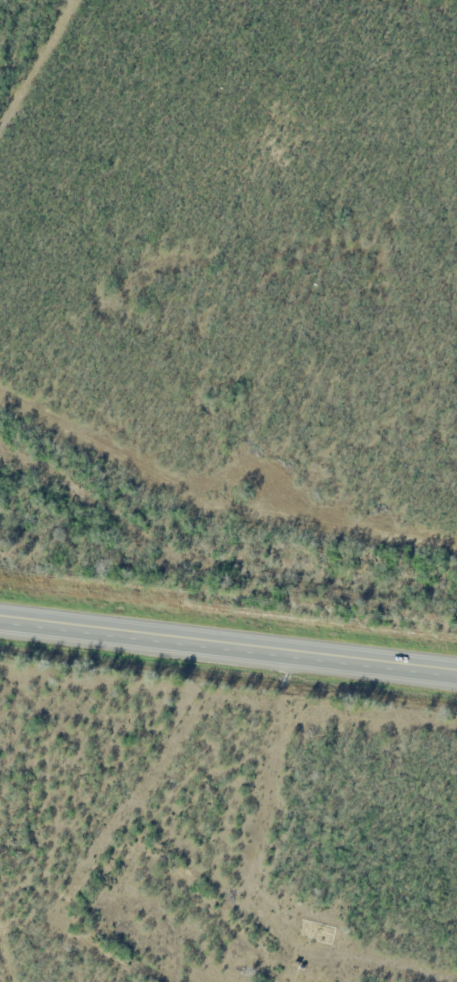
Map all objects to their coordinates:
road: (228, 643)

